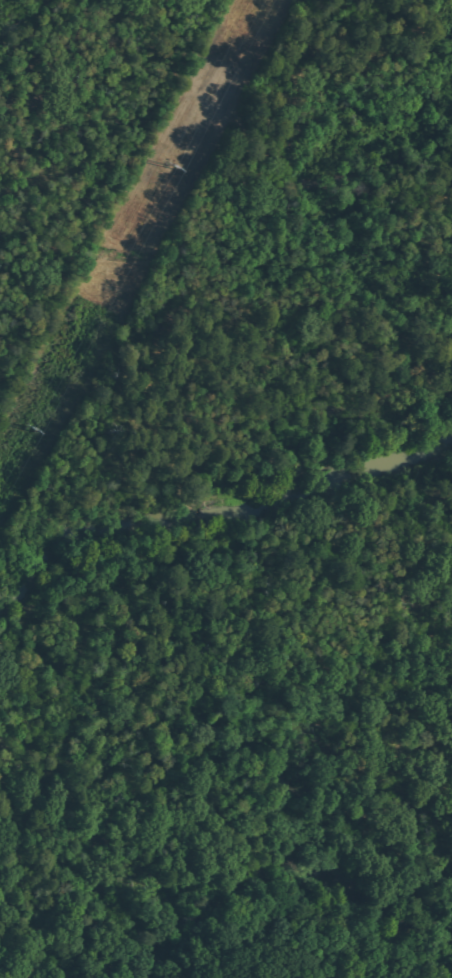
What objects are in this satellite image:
power tower: (173, 163)
power tower: (25, 429)
river: (286, 870)

